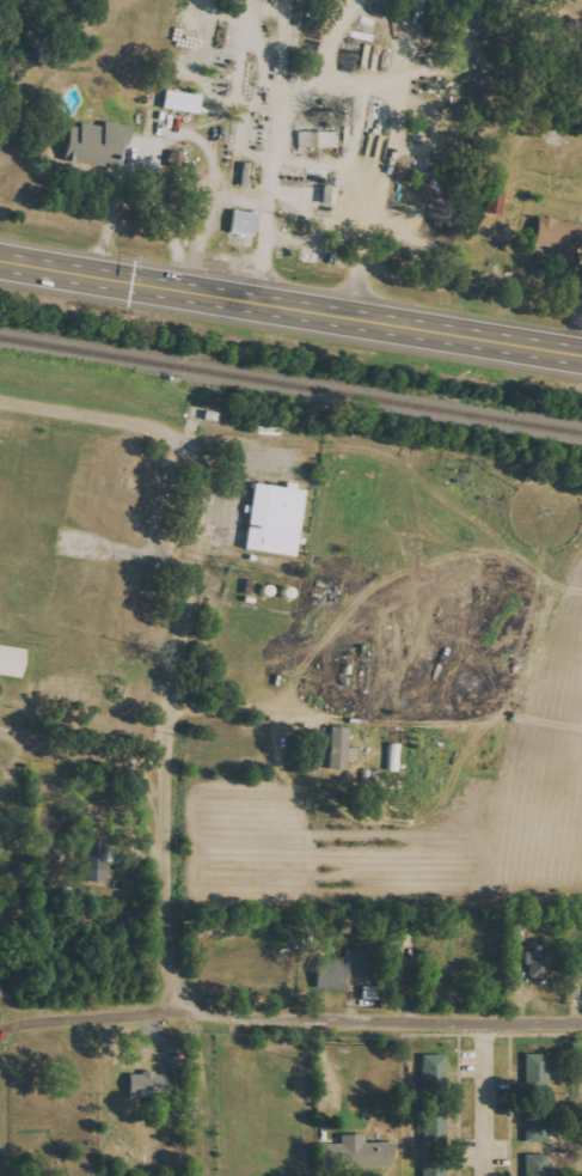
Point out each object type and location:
building: (183, 102)
building: (319, 139)
building: (97, 144)
building: (330, 195)
building: (497, 202)
building: (245, 223)
building: (559, 234)
road: (44, 266)
road: (335, 316)
railway: (290, 384)
road: (102, 418)
building: (276, 519)
building: (252, 587)
building: (12, 660)
road: (244, 707)
road: (169, 729)
building: (342, 749)
road: (81, 750)
building: (394, 757)
building: (53, 786)
building: (96, 861)
building: (539, 964)
building: (343, 968)
building: (399, 969)
building: (372, 993)
road: (84, 1013)
road: (374, 1016)
building: (538, 1070)
building: (435, 1071)
building: (151, 1086)
road: (482, 1098)
building: (356, 1153)
building: (436, 1168)

